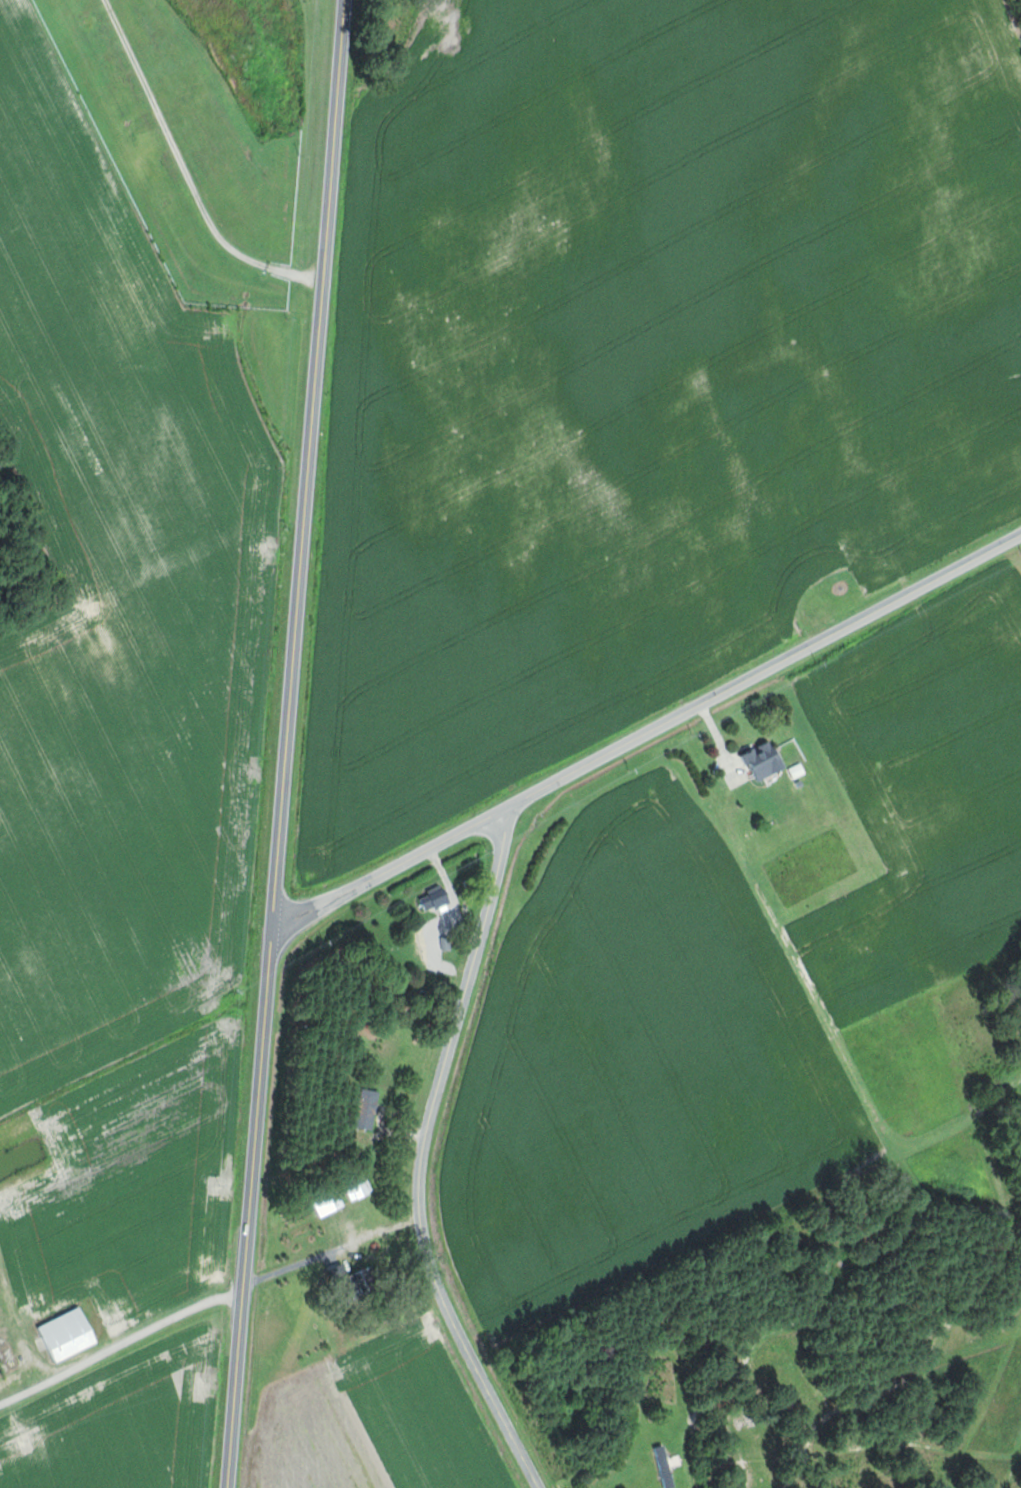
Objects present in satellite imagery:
road: (186, 171)
road: (648, 733)
road: (288, 744)
building: (766, 761)
building: (436, 899)
building: (368, 1108)
road: (425, 1157)
building: (359, 1188)
building: (329, 1202)
road: (332, 1250)
building: (359, 1280)
building: (68, 1335)
road: (121, 1345)
building: (668, 1466)

